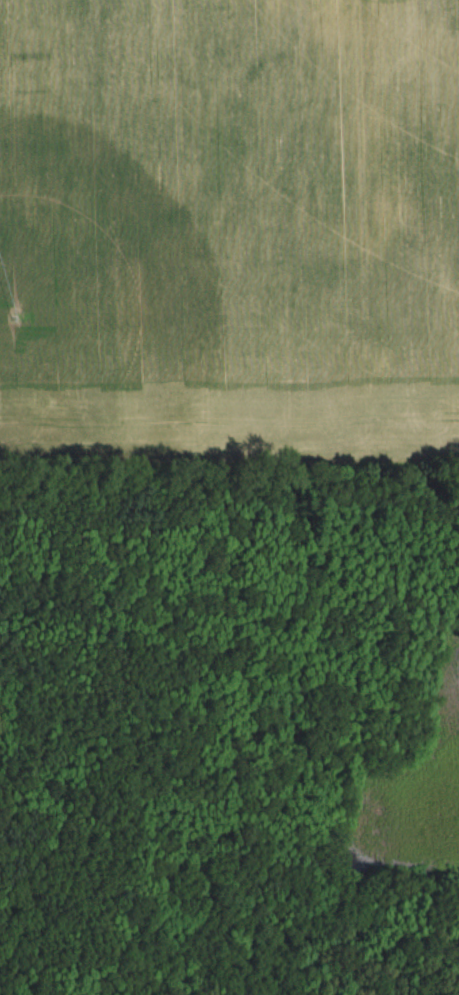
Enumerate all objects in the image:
crop: (229, 225)

